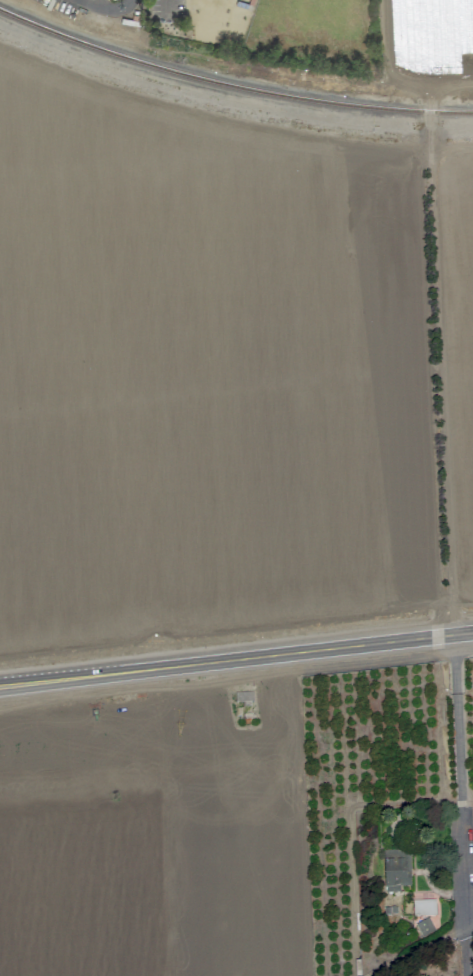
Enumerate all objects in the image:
road: (166, 6)
road: (112, 9)
railway: (231, 84)
crop: (238, 524)
road: (236, 663)
road: (461, 806)
building: (396, 870)
building: (424, 907)
building: (425, 927)

